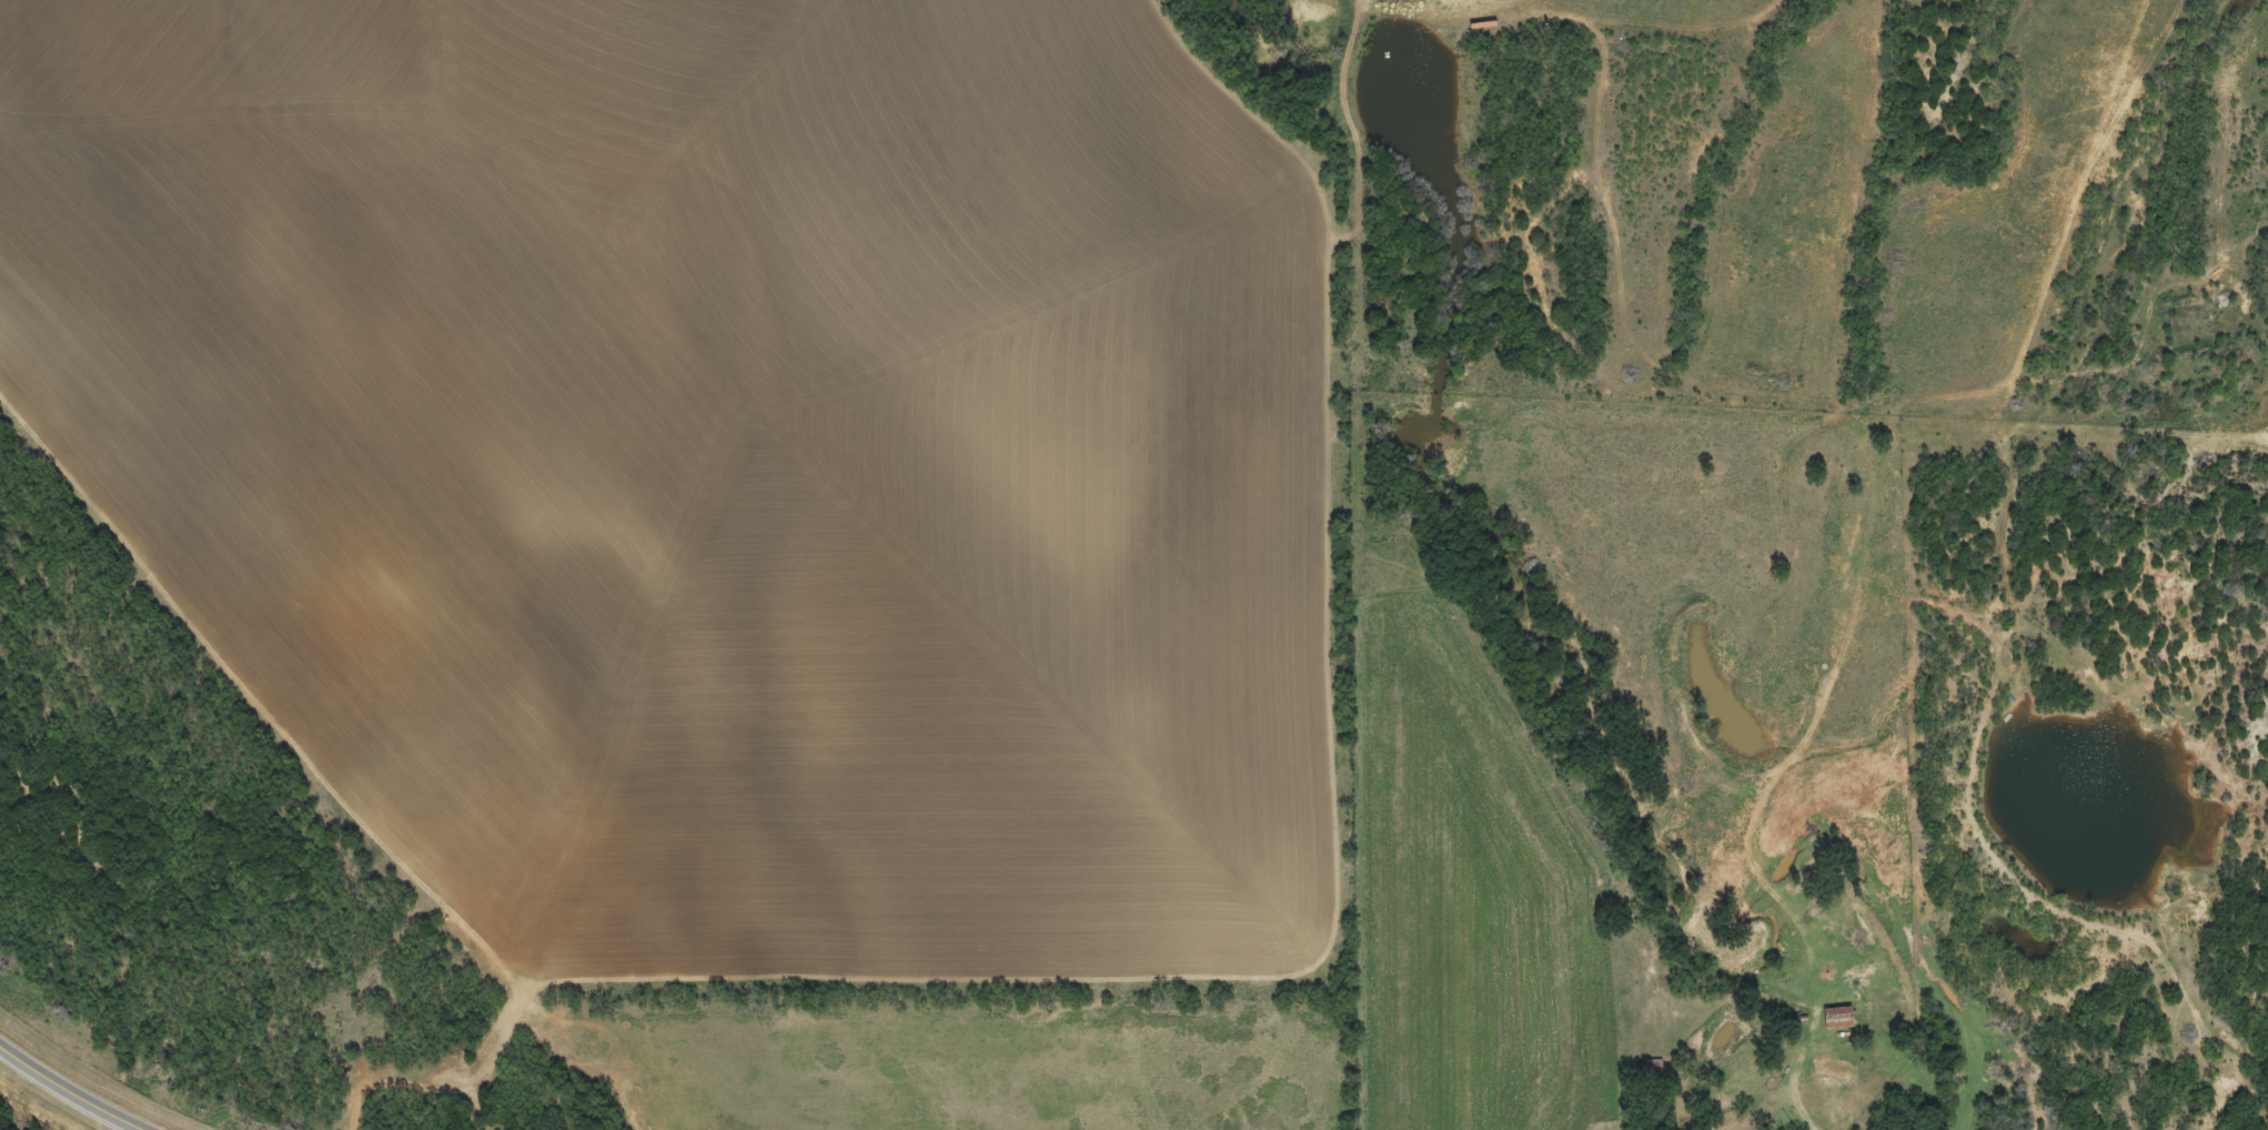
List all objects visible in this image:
building: (1835, 1027)
road: (73, 1089)

